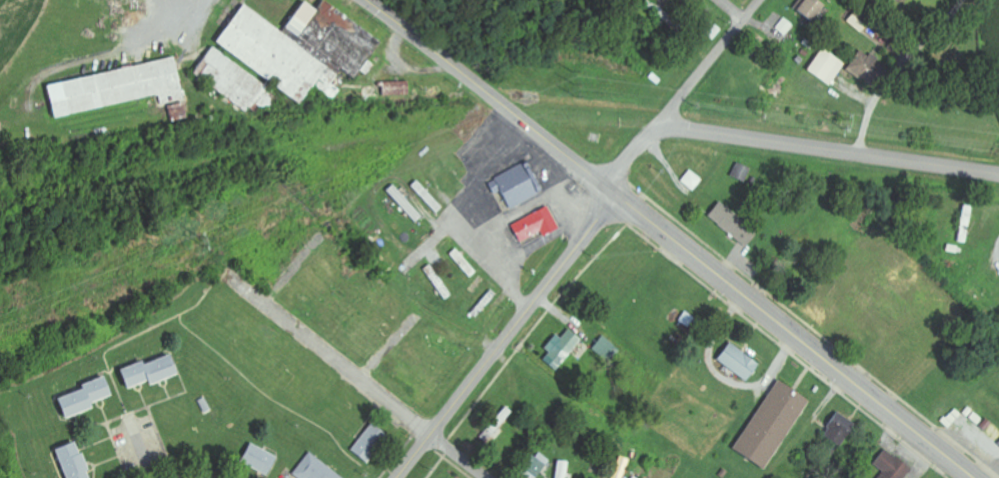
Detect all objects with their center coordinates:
building: (816, 8)
road: (731, 9)
building: (861, 22)
building: (786, 27)
building: (340, 36)
building: (277, 55)
building: (828, 67)
building: (870, 70)
building: (232, 79)
building: (119, 89)
road: (683, 93)
road: (495, 97)
road: (827, 149)
building: (695, 180)
building: (520, 185)
road: (459, 189)
building: (429, 198)
building: (407, 204)
building: (737, 224)
building: (539, 225)
road: (276, 256)
building: (465, 264)
building: (690, 323)
road: (374, 333)
road: (507, 336)
road: (794, 337)
building: (564, 349)
building: (742, 362)
building: (156, 372)
road: (357, 378)
building: (91, 398)
building: (776, 424)
building: (494, 429)
building: (843, 430)
building: (373, 442)
building: (262, 458)
building: (77, 461)
building: (894, 466)
building: (623, 467)
building: (317, 468)
building: (563, 469)

